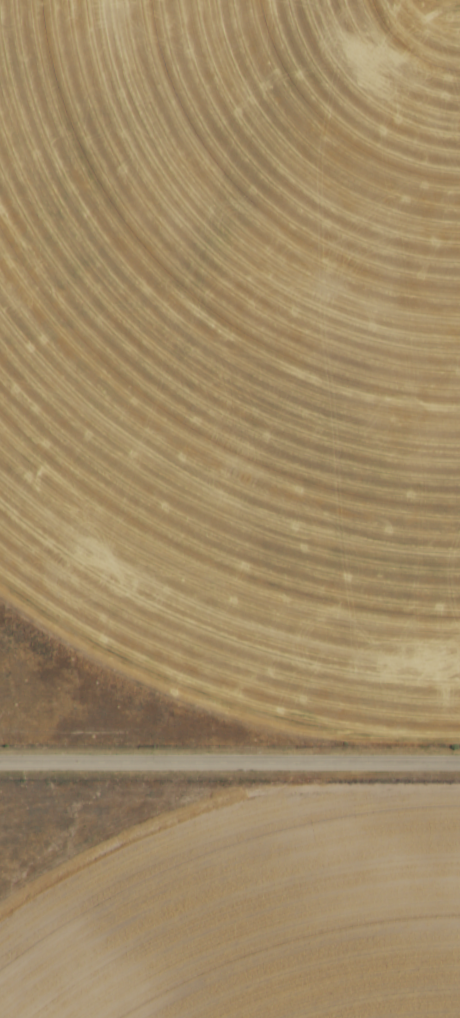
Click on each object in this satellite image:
road: (230, 764)

